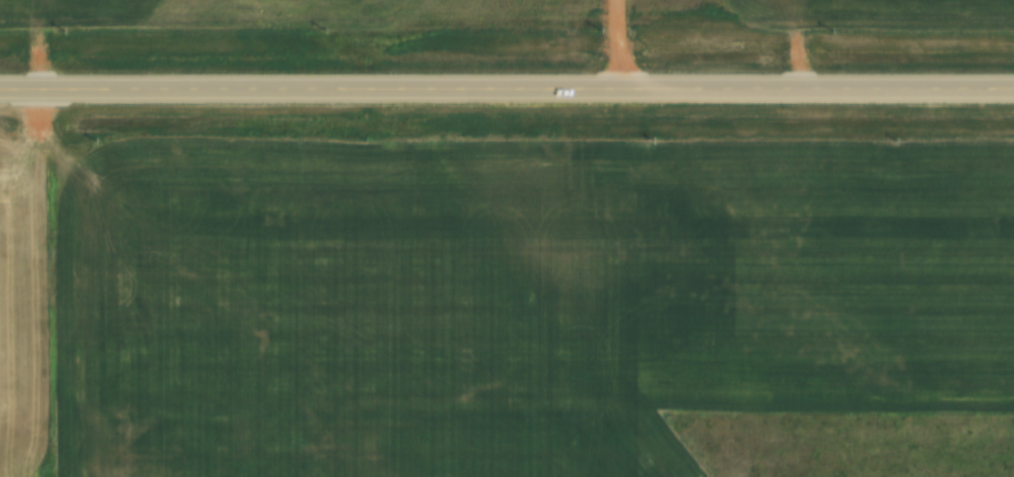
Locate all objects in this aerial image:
road: (506, 88)
road: (684, 452)

